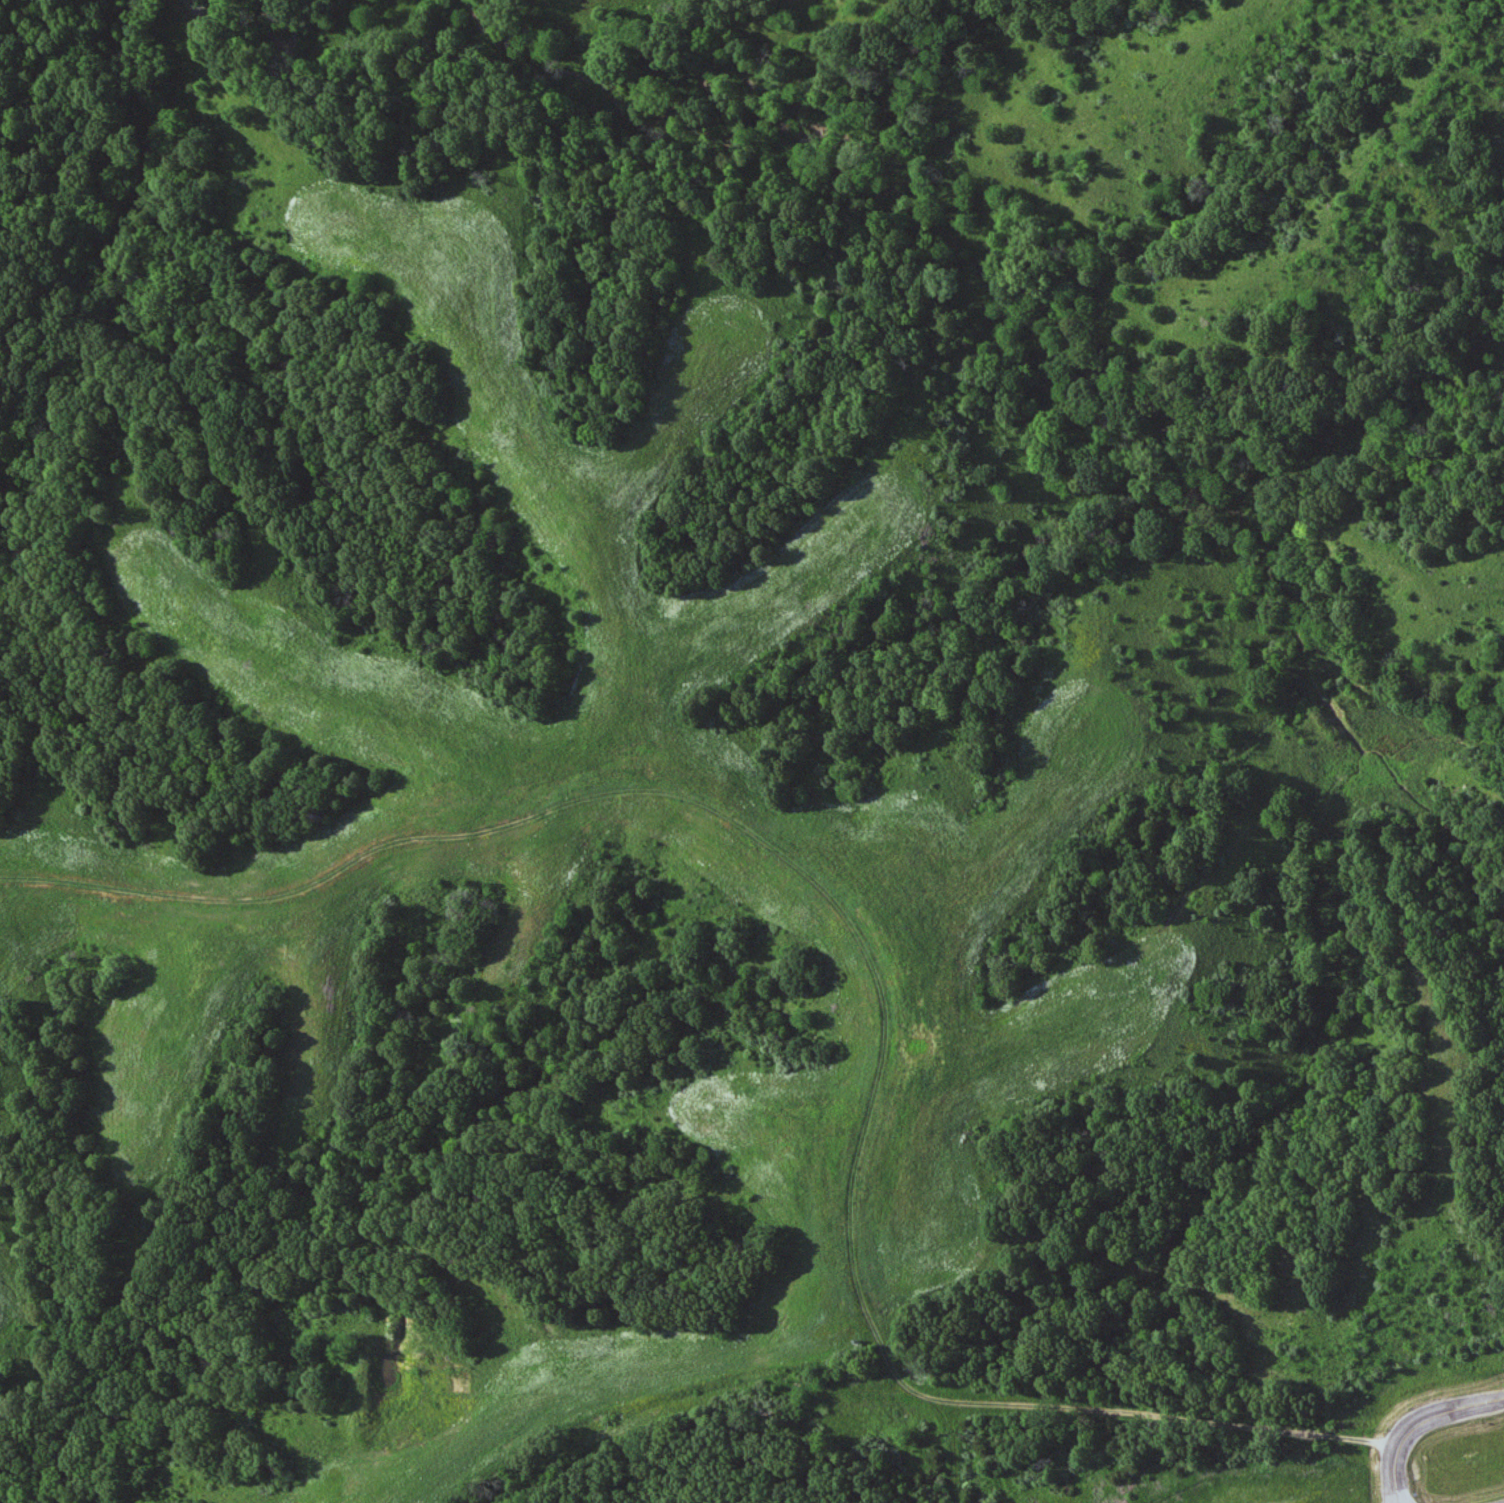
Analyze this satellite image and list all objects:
road: (1417, 1419)

